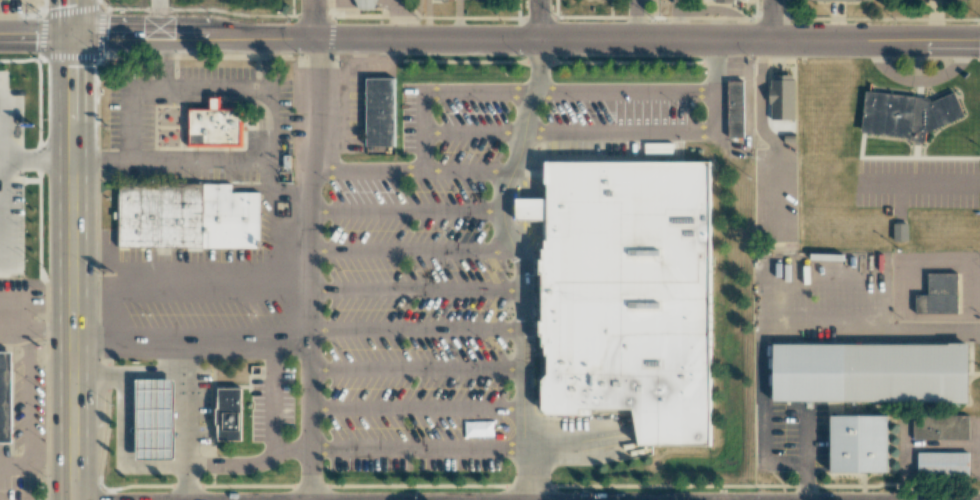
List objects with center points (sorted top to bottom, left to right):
building: (833, 0)
building: (927, 0)
building: (724, 1)
road: (313, 18)
road: (543, 19)
road: (769, 19)
road: (489, 37)
traffic signals: (72, 38)
road: (716, 86)
road: (139, 93)
building: (781, 97)
building: (734, 109)
building: (380, 113)
building: (907, 114)
building: (215, 126)
road: (421, 132)
road: (469, 132)
road: (228, 157)
road: (464, 168)
road: (406, 208)
building: (183, 221)
building: (899, 232)
road: (73, 249)
road: (418, 249)
road: (524, 260)
road: (312, 268)
road: (881, 288)
road: (418, 289)
building: (938, 298)
building: (623, 302)
road: (819, 320)
road: (417, 327)
road: (417, 367)
building: (863, 379)
building: (6, 396)
road: (416, 408)
building: (153, 419)
building: (225, 421)
building: (937, 433)
road: (416, 448)
building: (852, 451)
road: (805, 457)
building: (938, 470)

